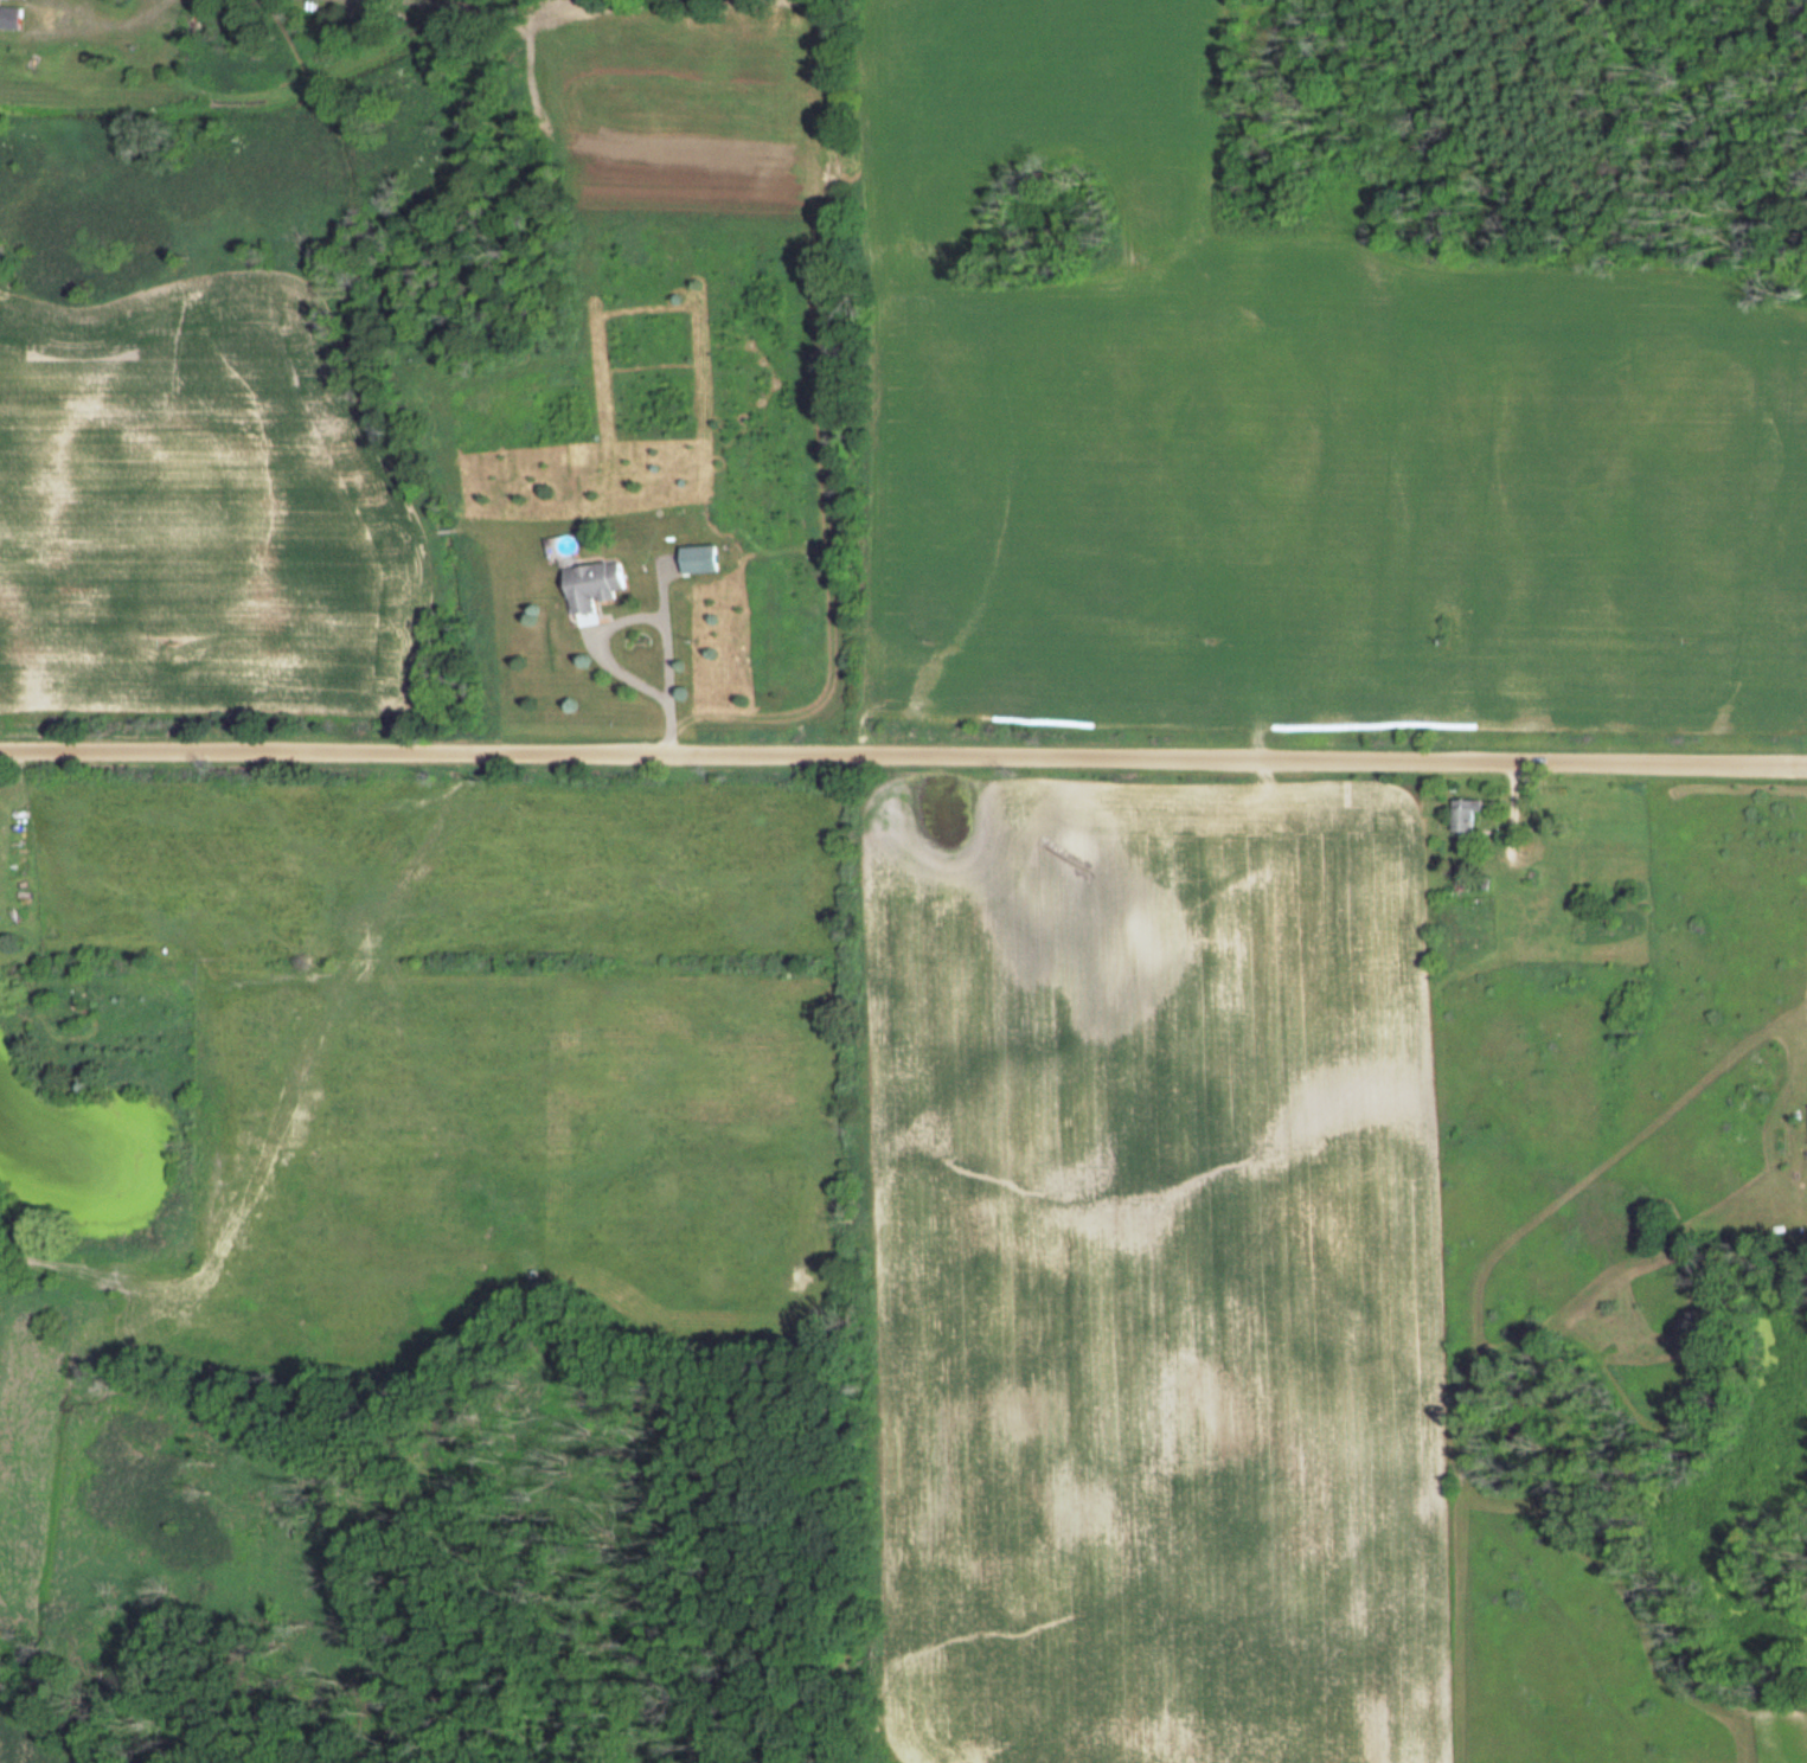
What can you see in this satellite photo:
building: (7, 18)
building: (692, 559)
building: (587, 585)
road: (598, 637)
road: (903, 758)
building: (1462, 816)

